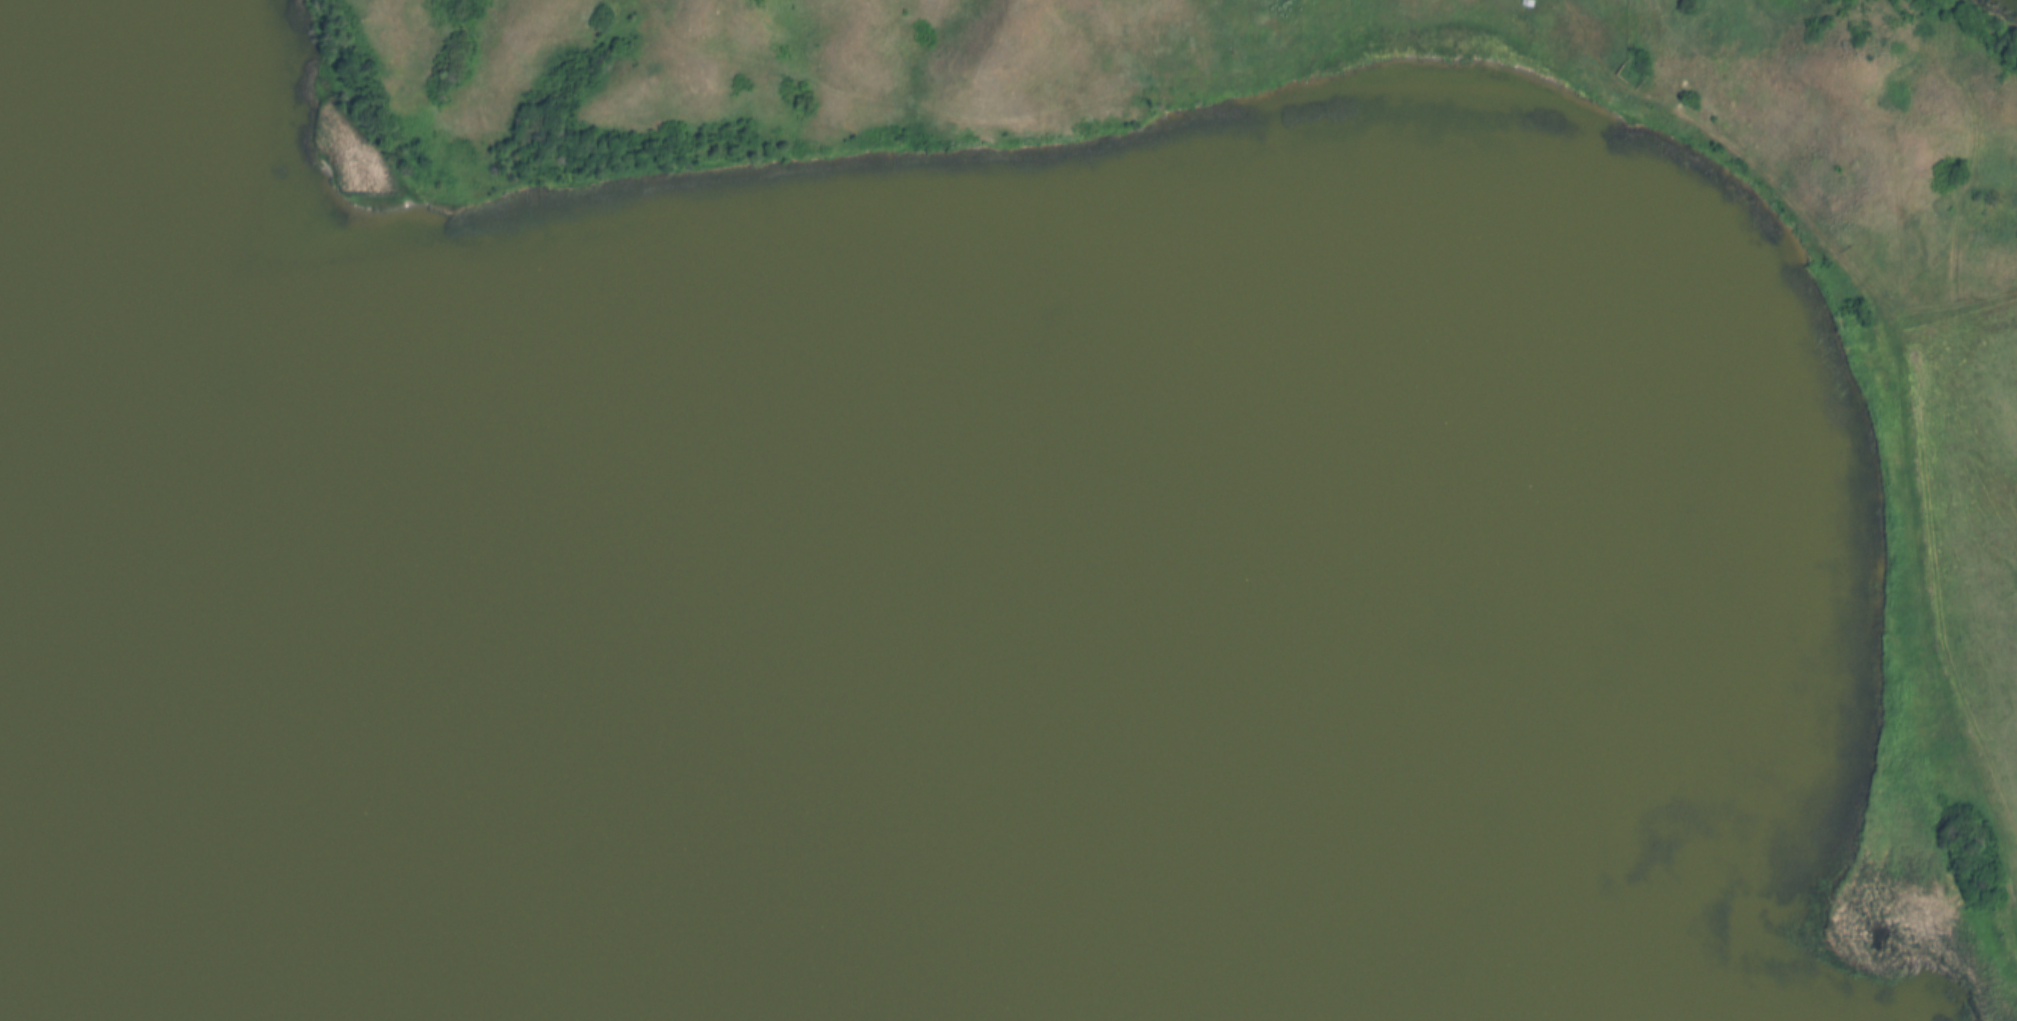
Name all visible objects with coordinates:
road: (1860, 164)
road: (1923, 617)

